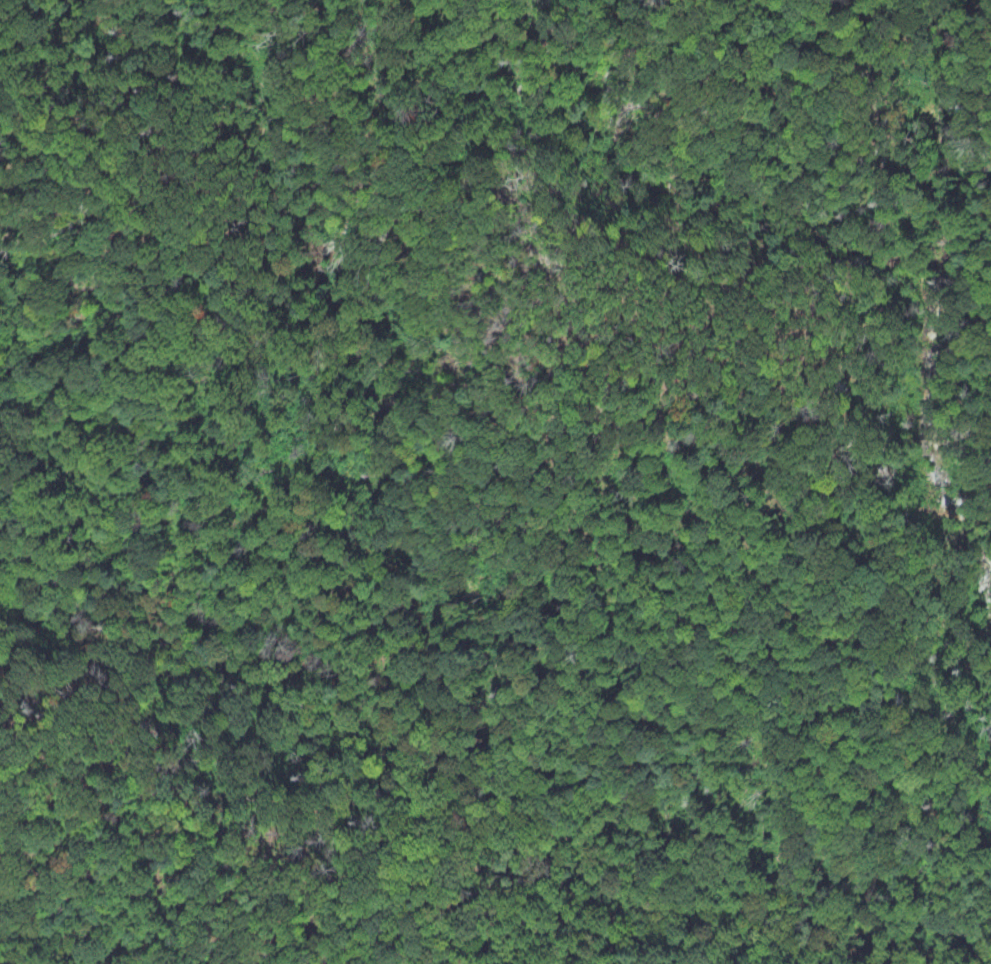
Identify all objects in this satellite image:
road: (350, 678)
park: (657, 815)

